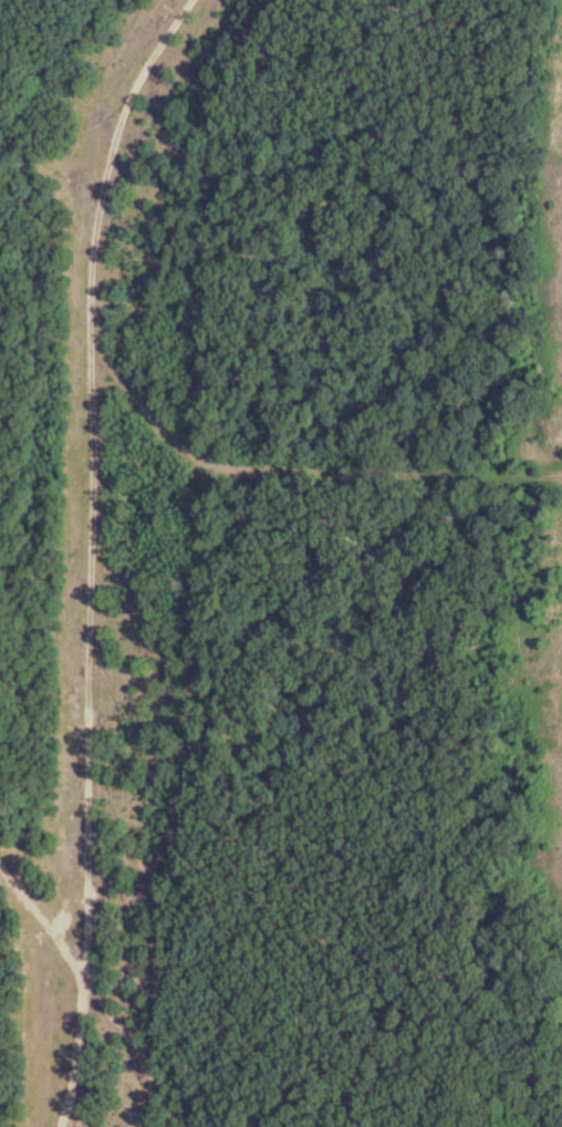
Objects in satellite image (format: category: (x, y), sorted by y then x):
wastewater plant: (544, 451)

